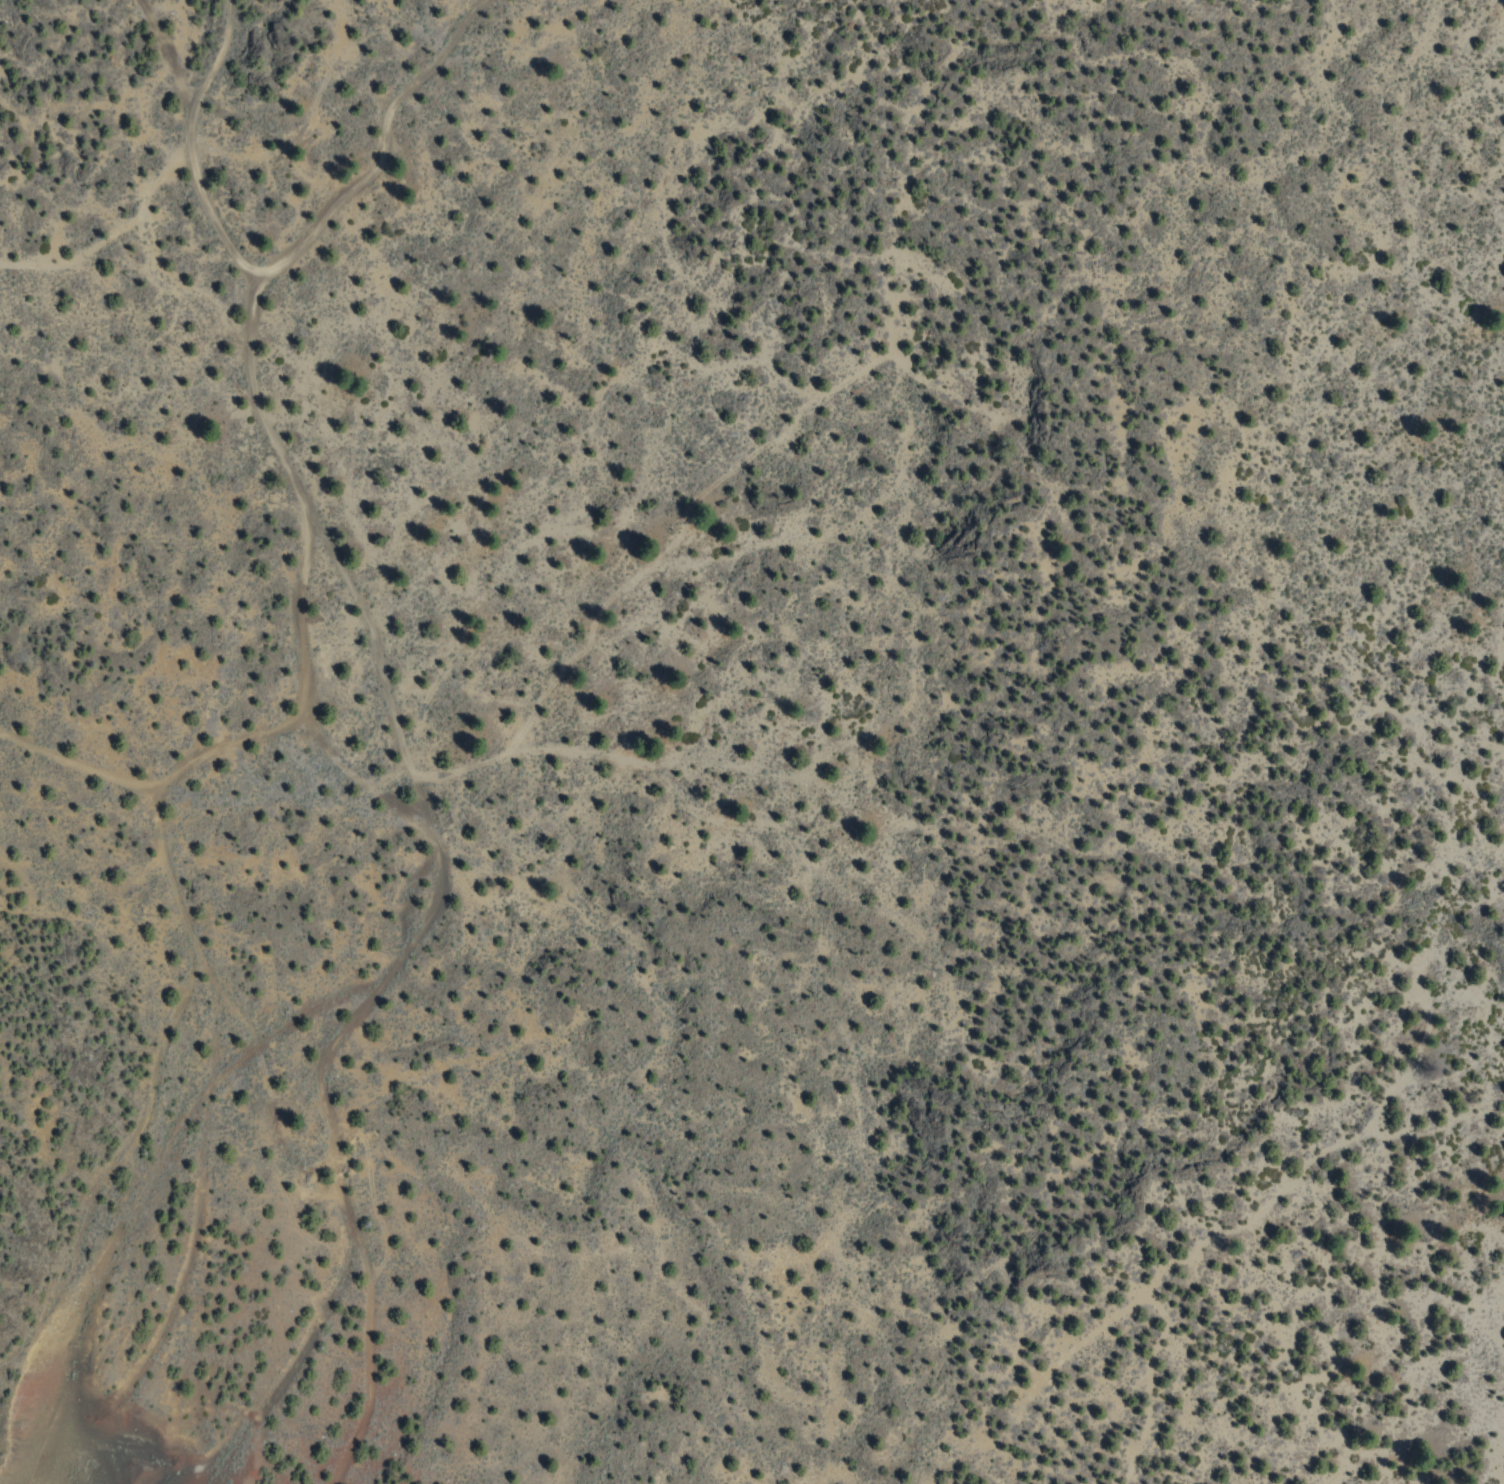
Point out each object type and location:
road: (187, 135)
road: (374, 152)
road: (299, 683)
road: (155, 778)
road: (437, 888)
quarry: (104, 1406)

